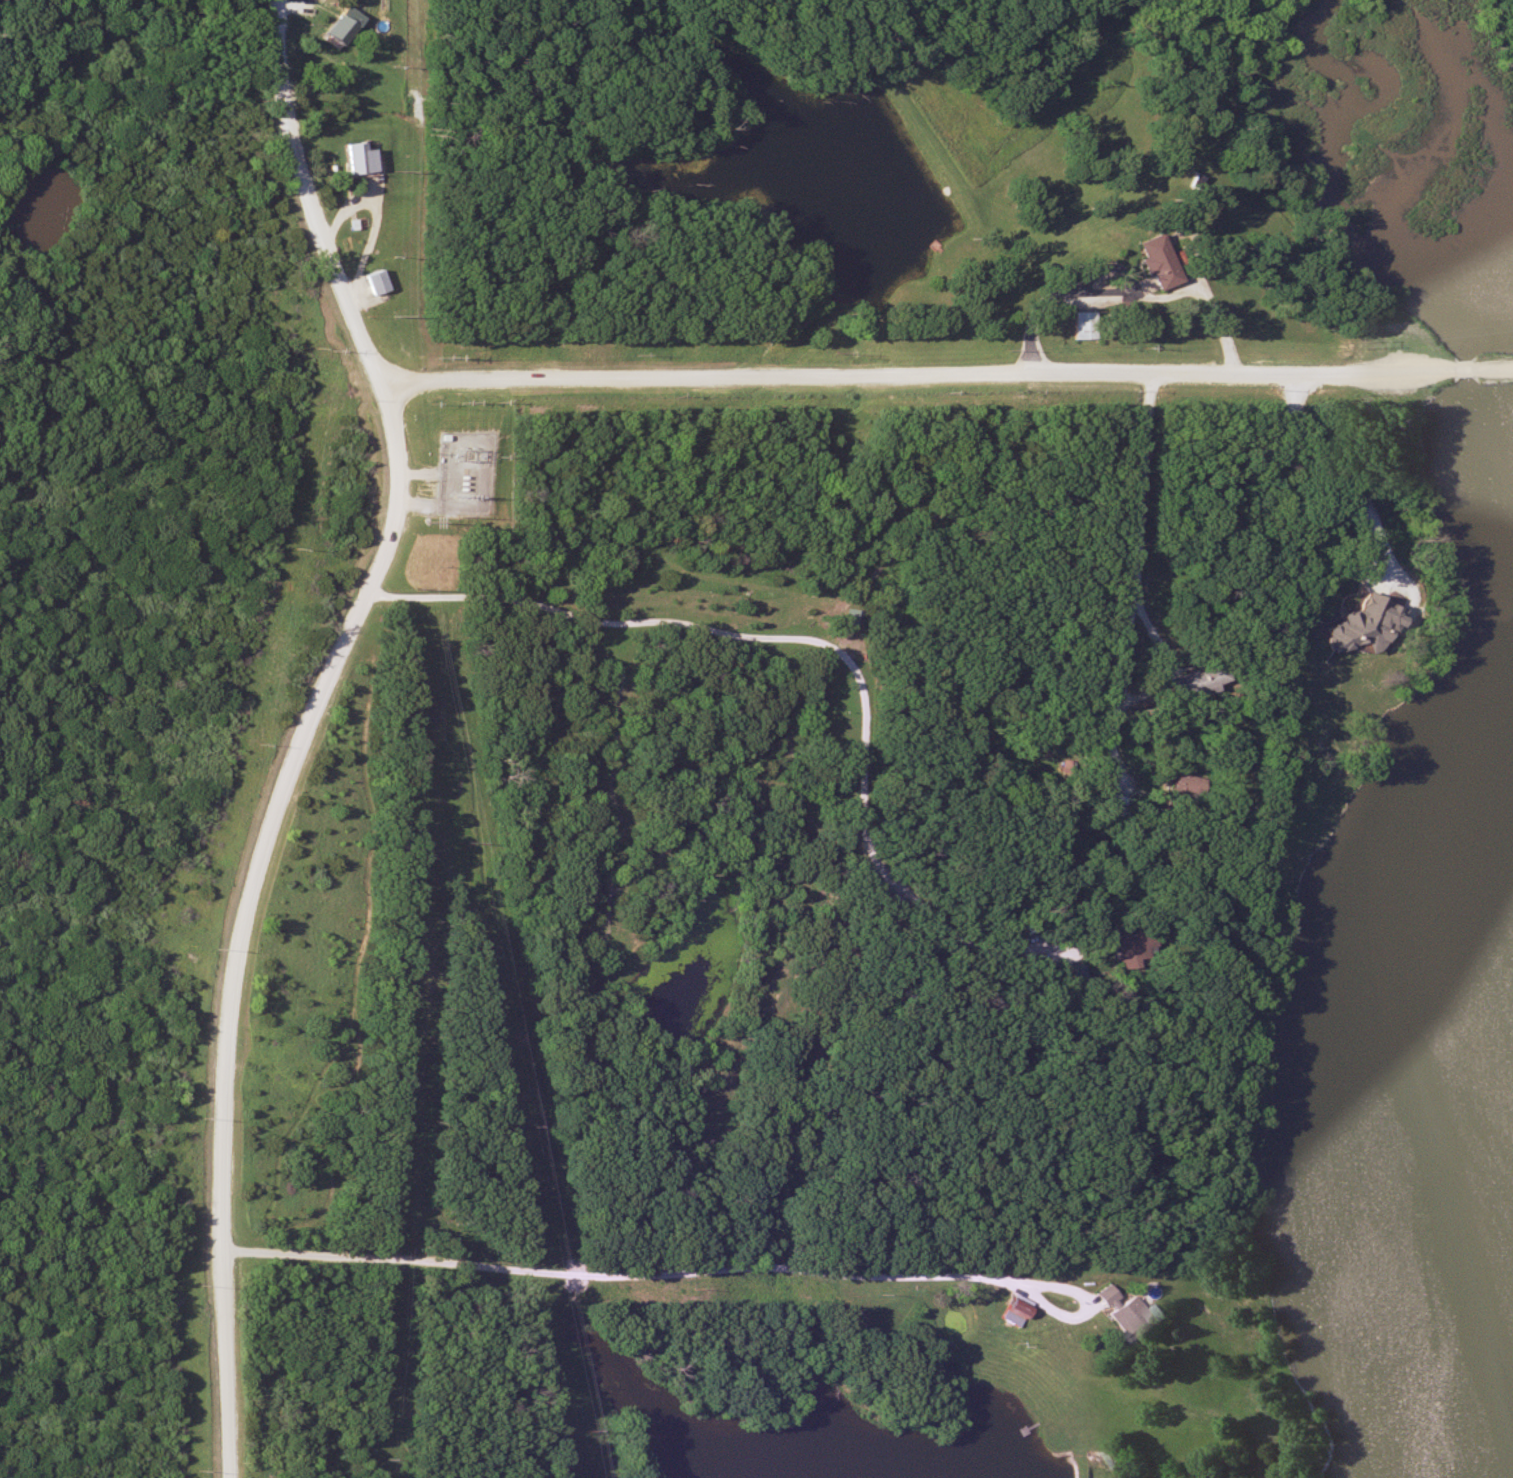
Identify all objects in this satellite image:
building: (352, 159)
building: (1150, 261)
building: (372, 282)
building: (1080, 325)
road: (944, 374)
power substation: (465, 474)
road: (1132, 575)
road: (624, 629)
building: (1192, 681)
road: (311, 726)
building: (1182, 785)
building: (1127, 959)
park: (946, 979)
road: (704, 1269)
building: (1014, 1311)
building: (1126, 1314)

